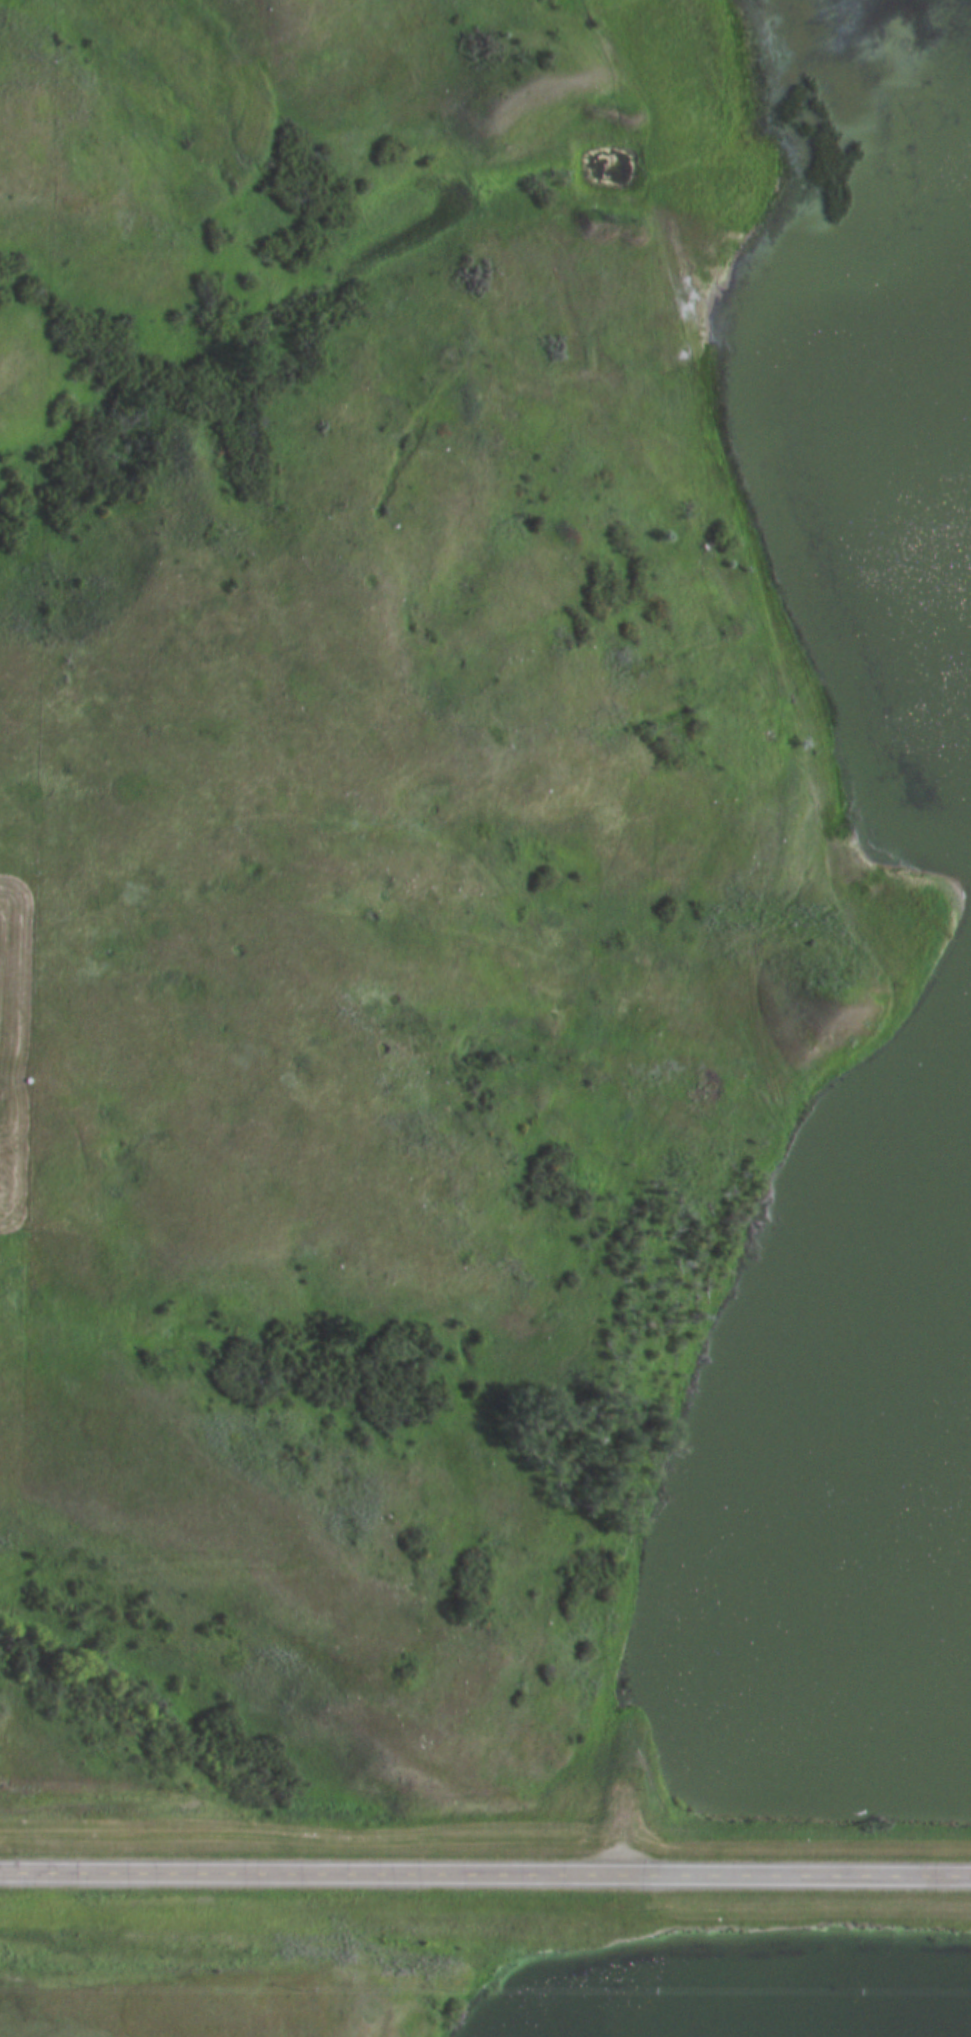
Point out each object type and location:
road: (485, 1875)

